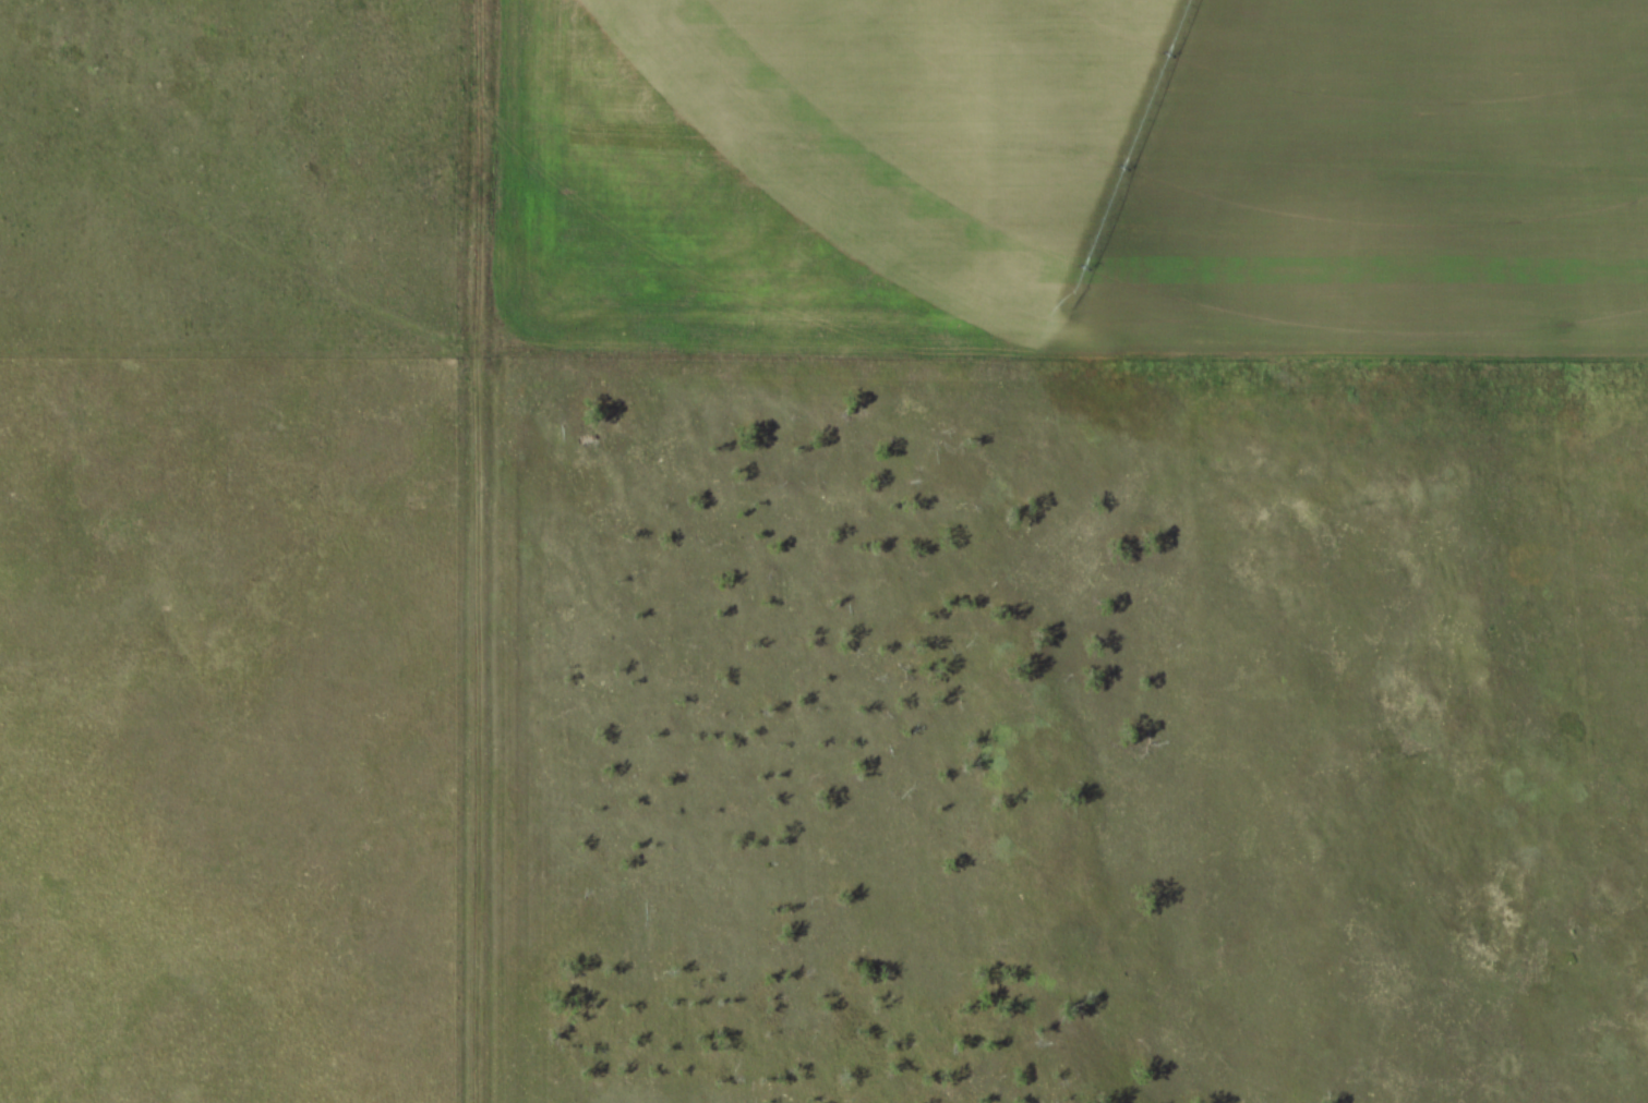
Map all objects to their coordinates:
road: (500, 551)

